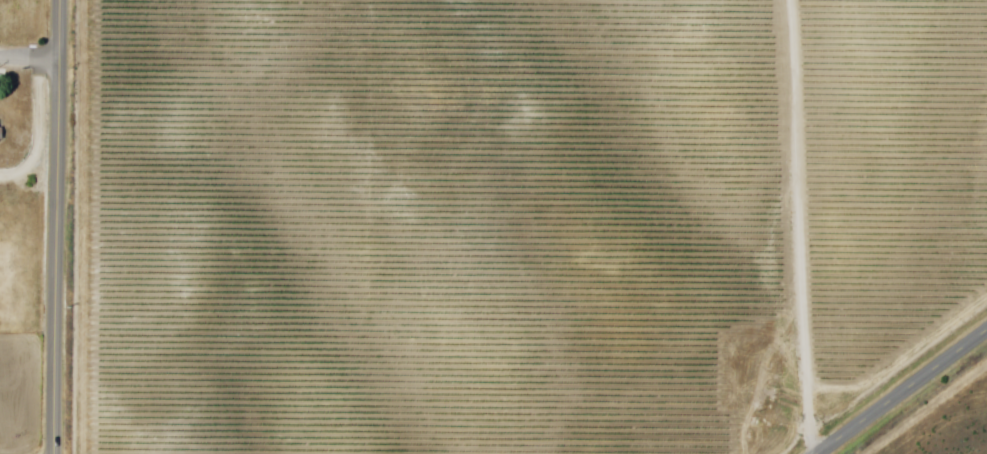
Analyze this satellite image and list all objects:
road: (30, 59)
road: (38, 131)
building: (2, 134)
road: (802, 226)
road: (58, 227)
building: (764, 388)
road: (901, 391)

